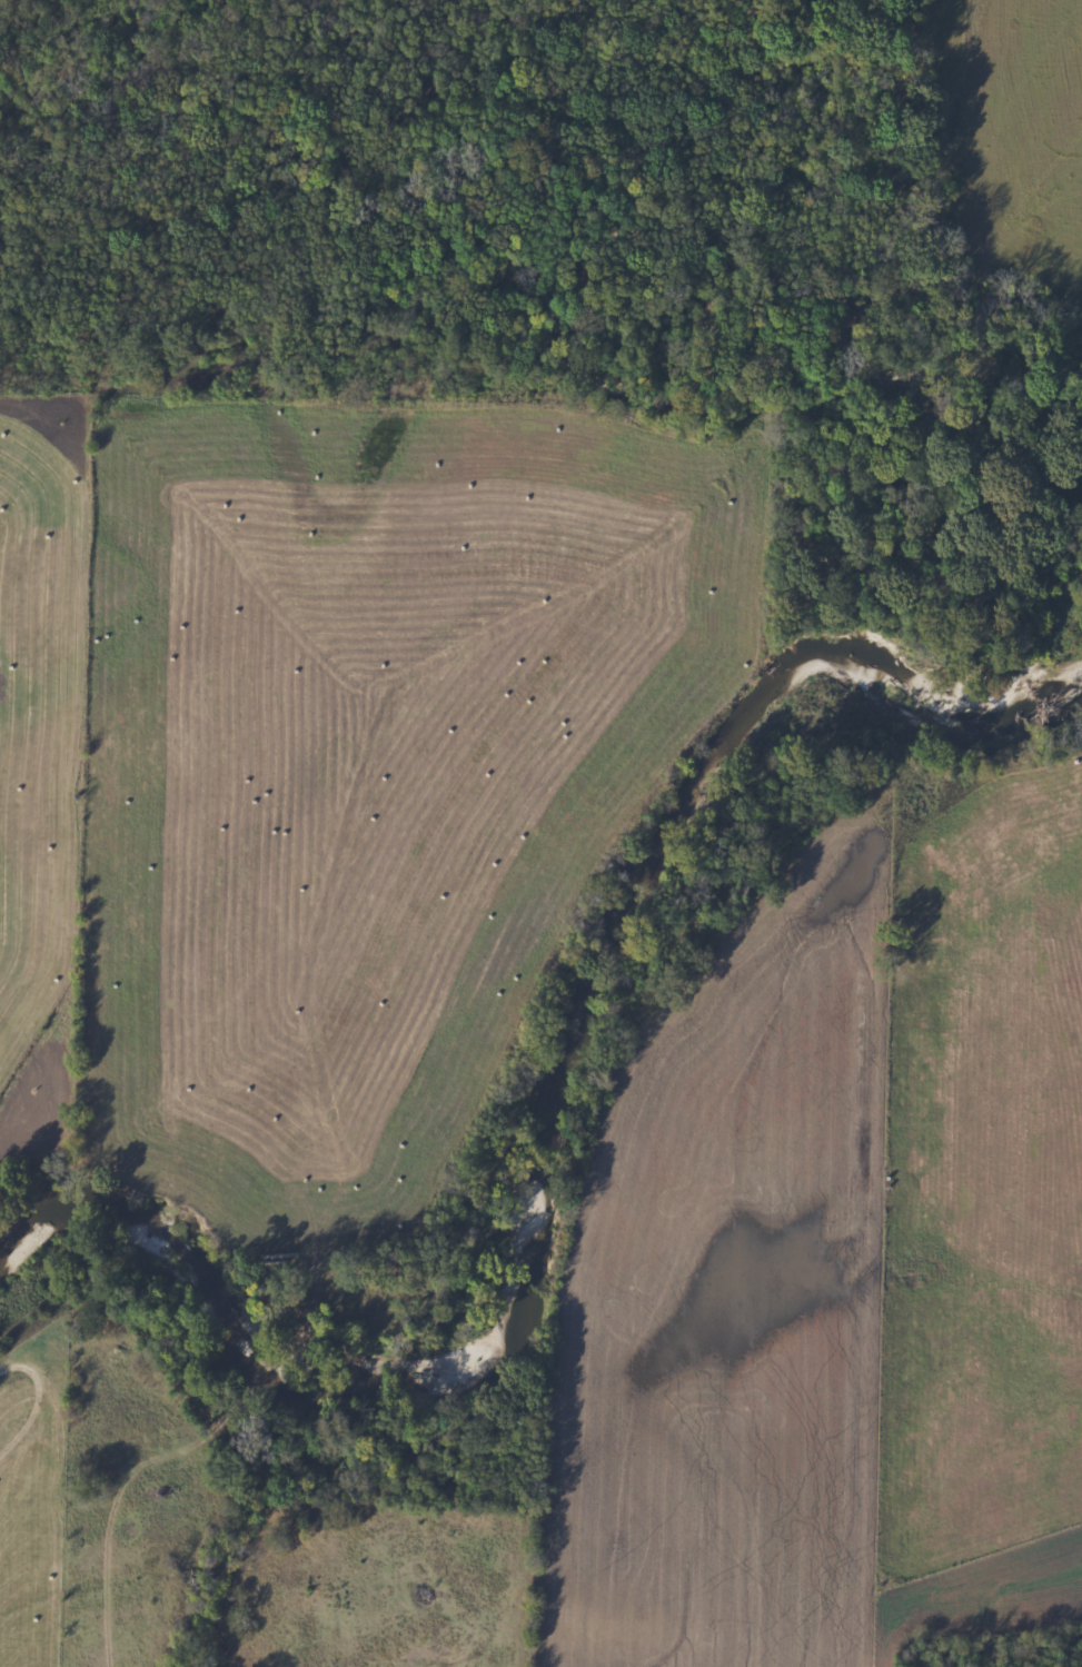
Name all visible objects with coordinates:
river: (540, 1139)
road: (107, 1519)

